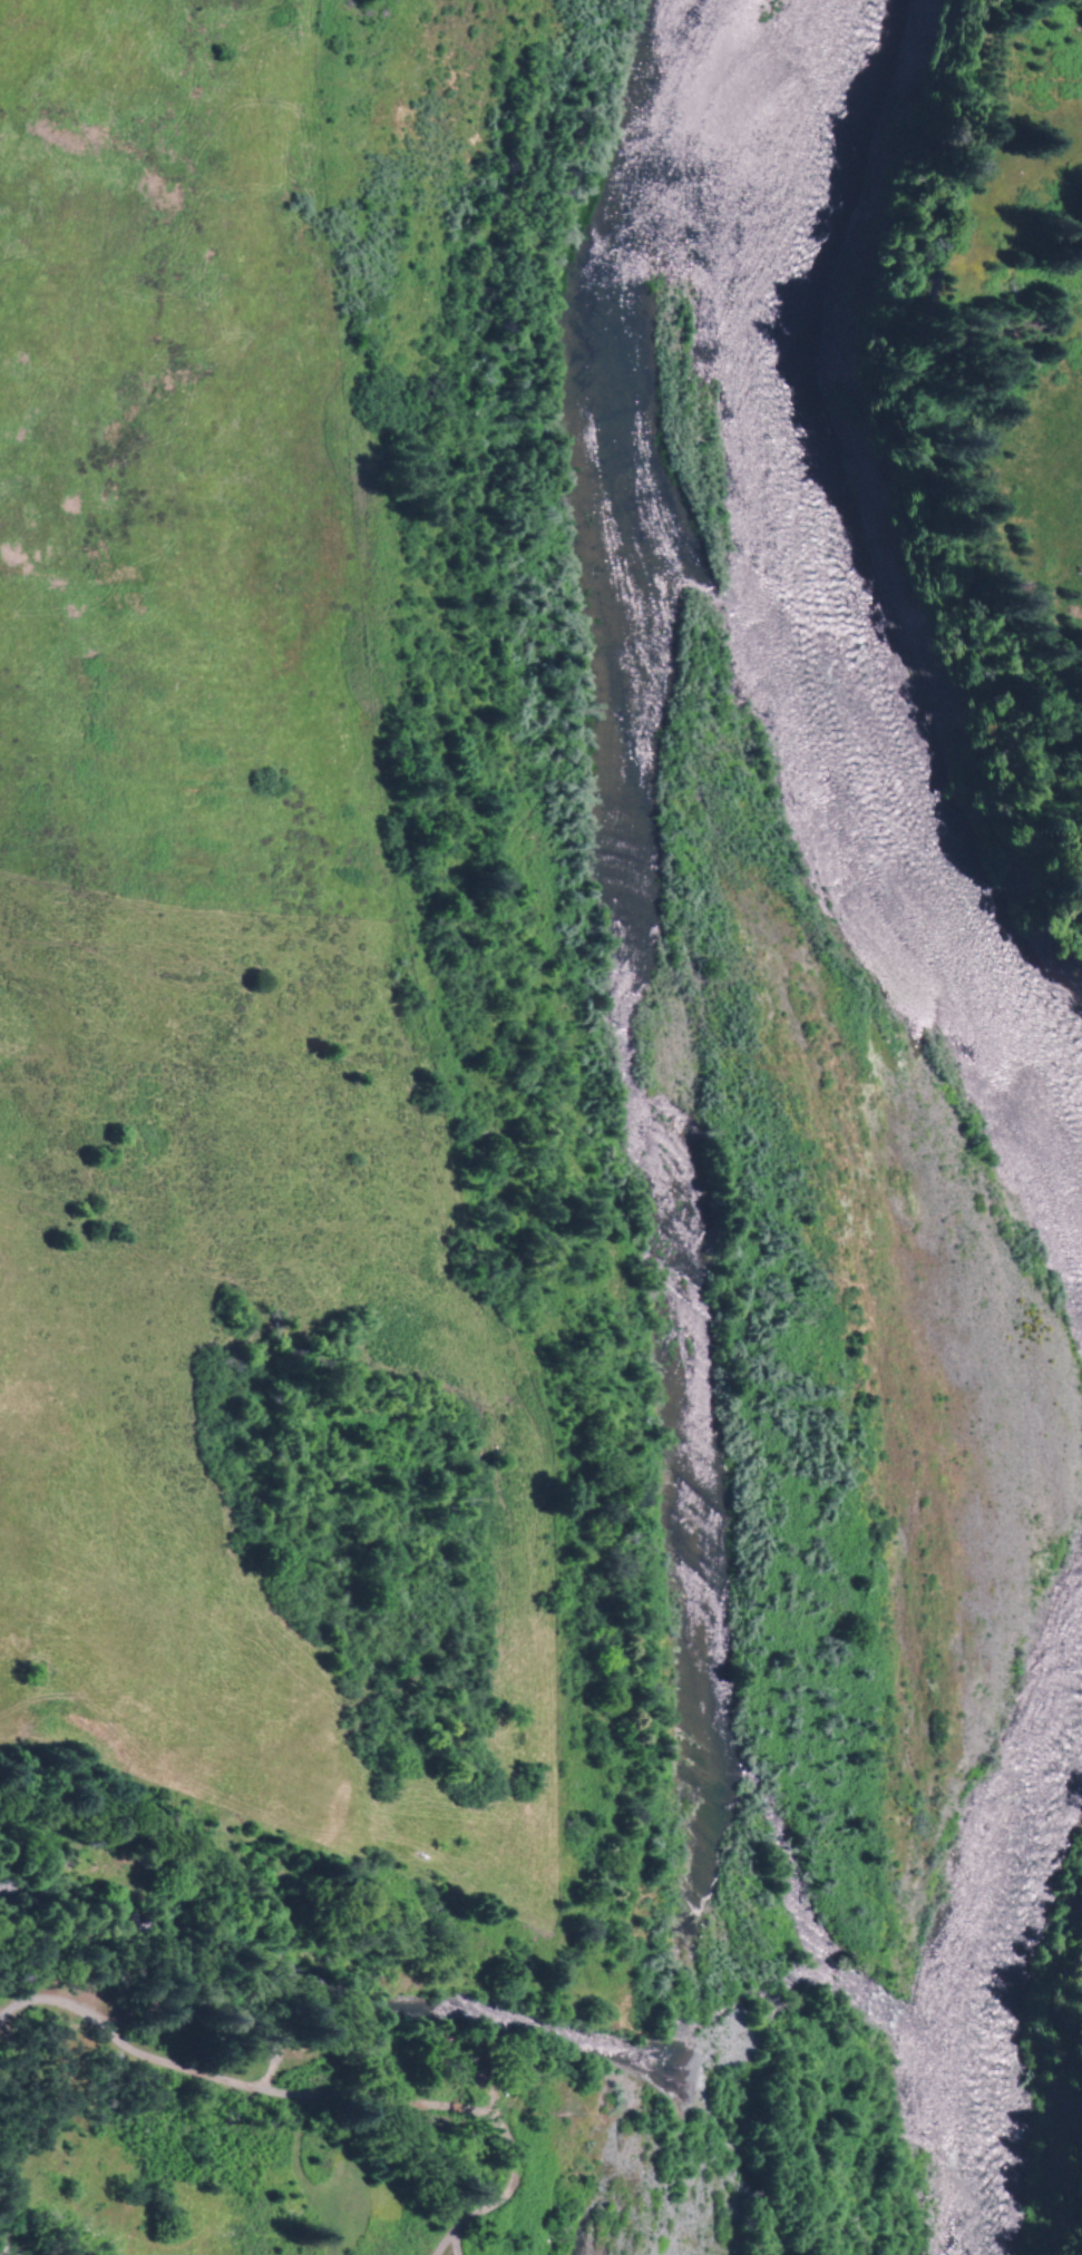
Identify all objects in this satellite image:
river: (803, 619)
river: (998, 1936)
road: (303, 2093)
road: (443, 2239)
road: (455, 2239)
road: (18, 2243)

